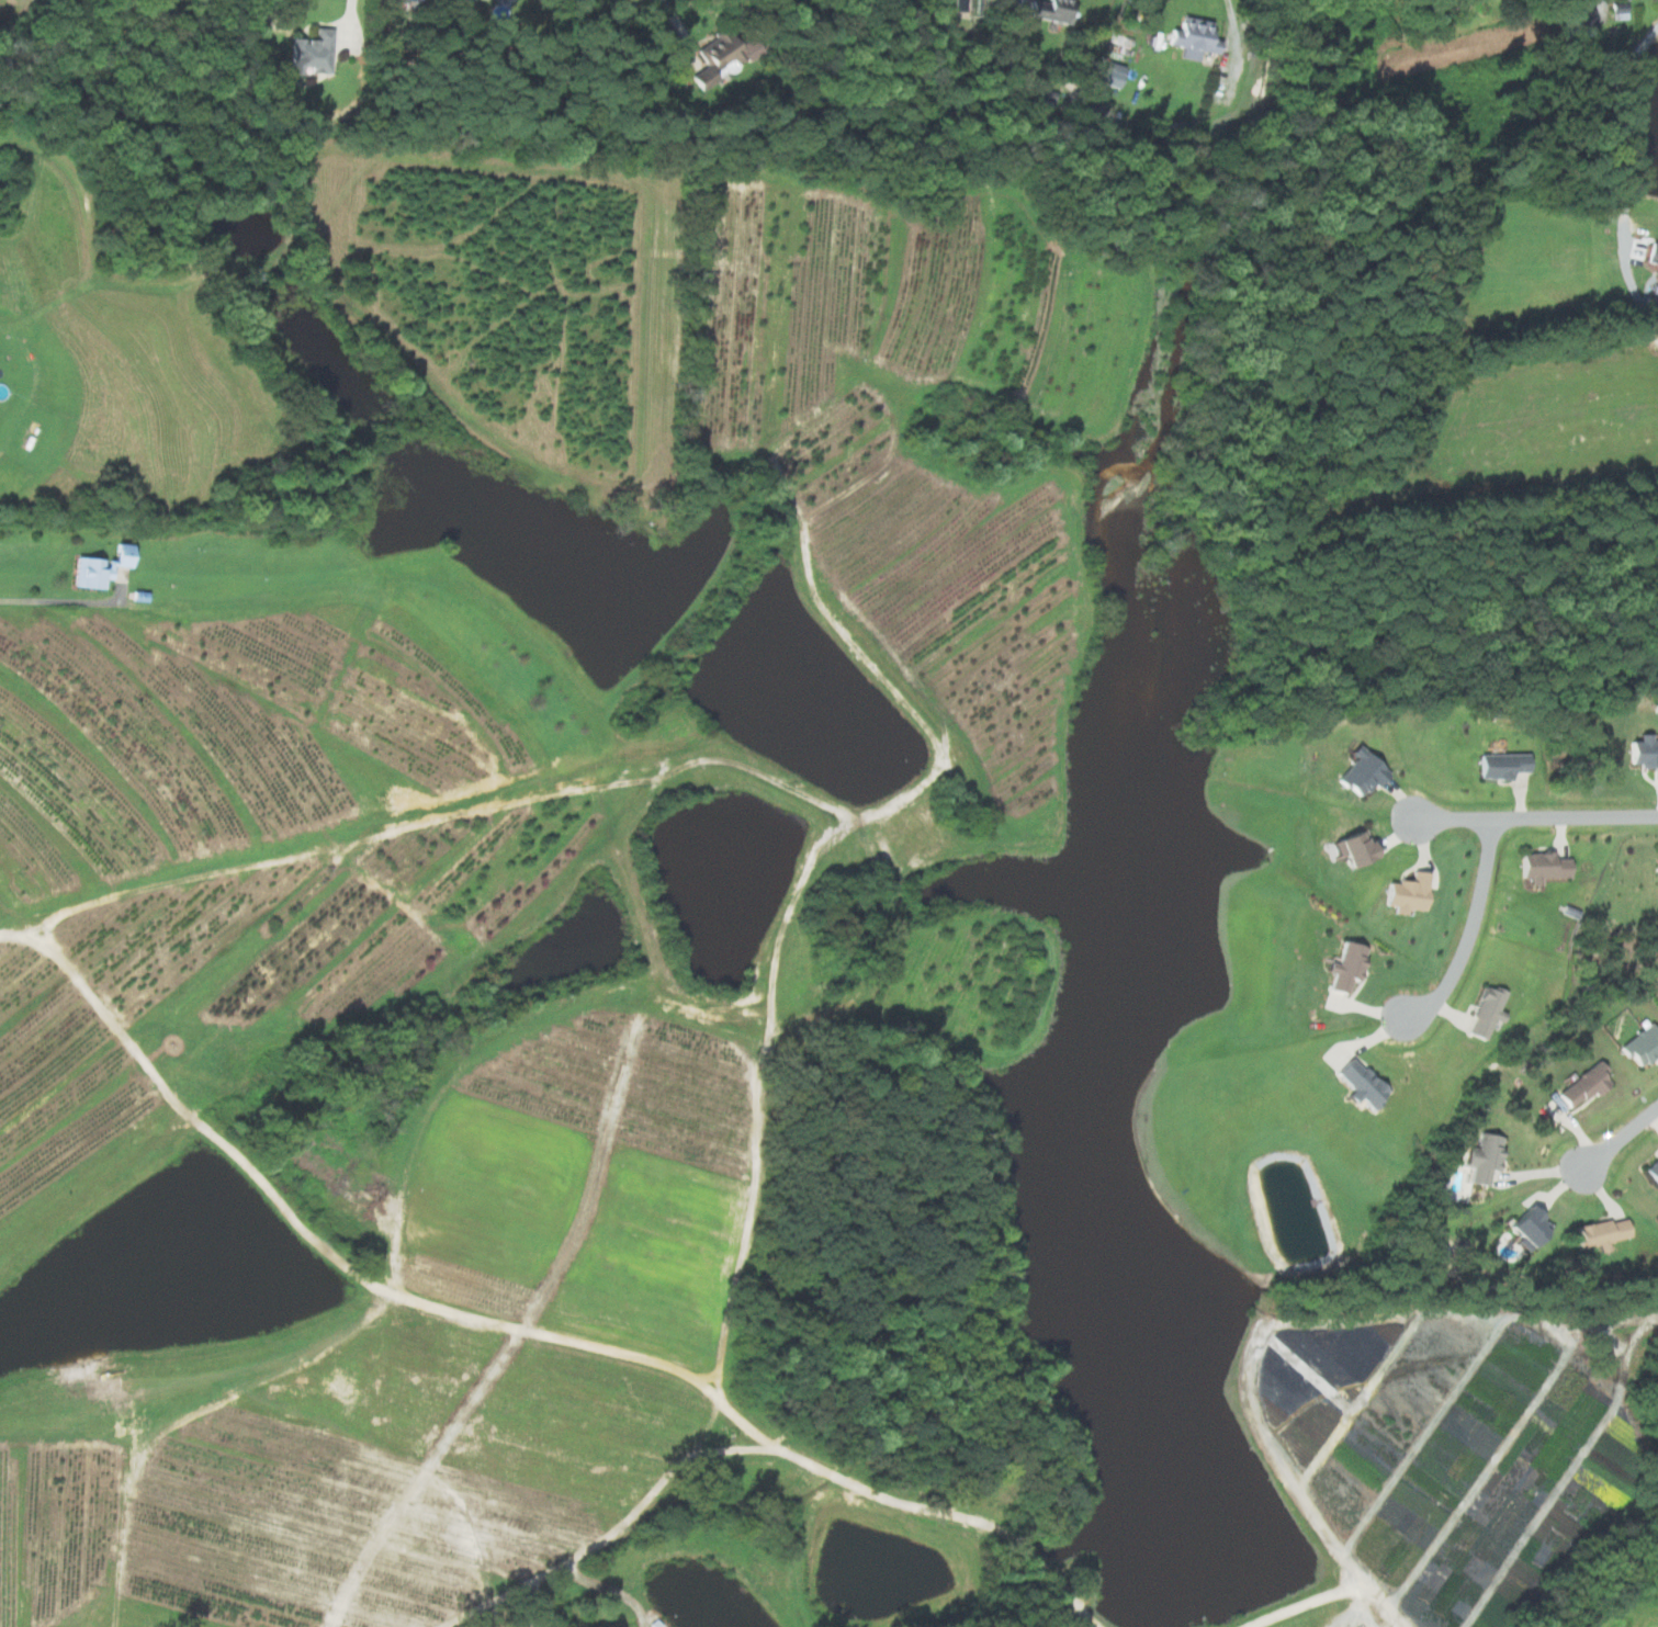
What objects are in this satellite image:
building: (410, 0)
building: (1047, 10)
building: (1618, 11)
road: (348, 21)
building: (1578, 23)
road: (1233, 24)
road: (681, 27)
building: (1191, 38)
building: (308, 53)
building: (719, 57)
building: (1108, 74)
road: (1621, 127)
building: (1651, 253)
building: (98, 567)
road: (61, 600)
building: (1644, 754)
building: (1500, 766)
building: (1361, 773)
road: (1533, 820)
building: (1354, 849)
building: (1541, 868)
building: (1656, 873)
building: (1406, 894)
road: (1473, 929)
building: (1344, 965)
building: (1485, 1013)
building: (1642, 1046)
building: (1358, 1082)
road: (1620, 1139)
building: (1481, 1157)
building: (1653, 1170)
building: (1526, 1225)
building: (1599, 1233)
road: (526, 1330)
road: (1347, 1592)

